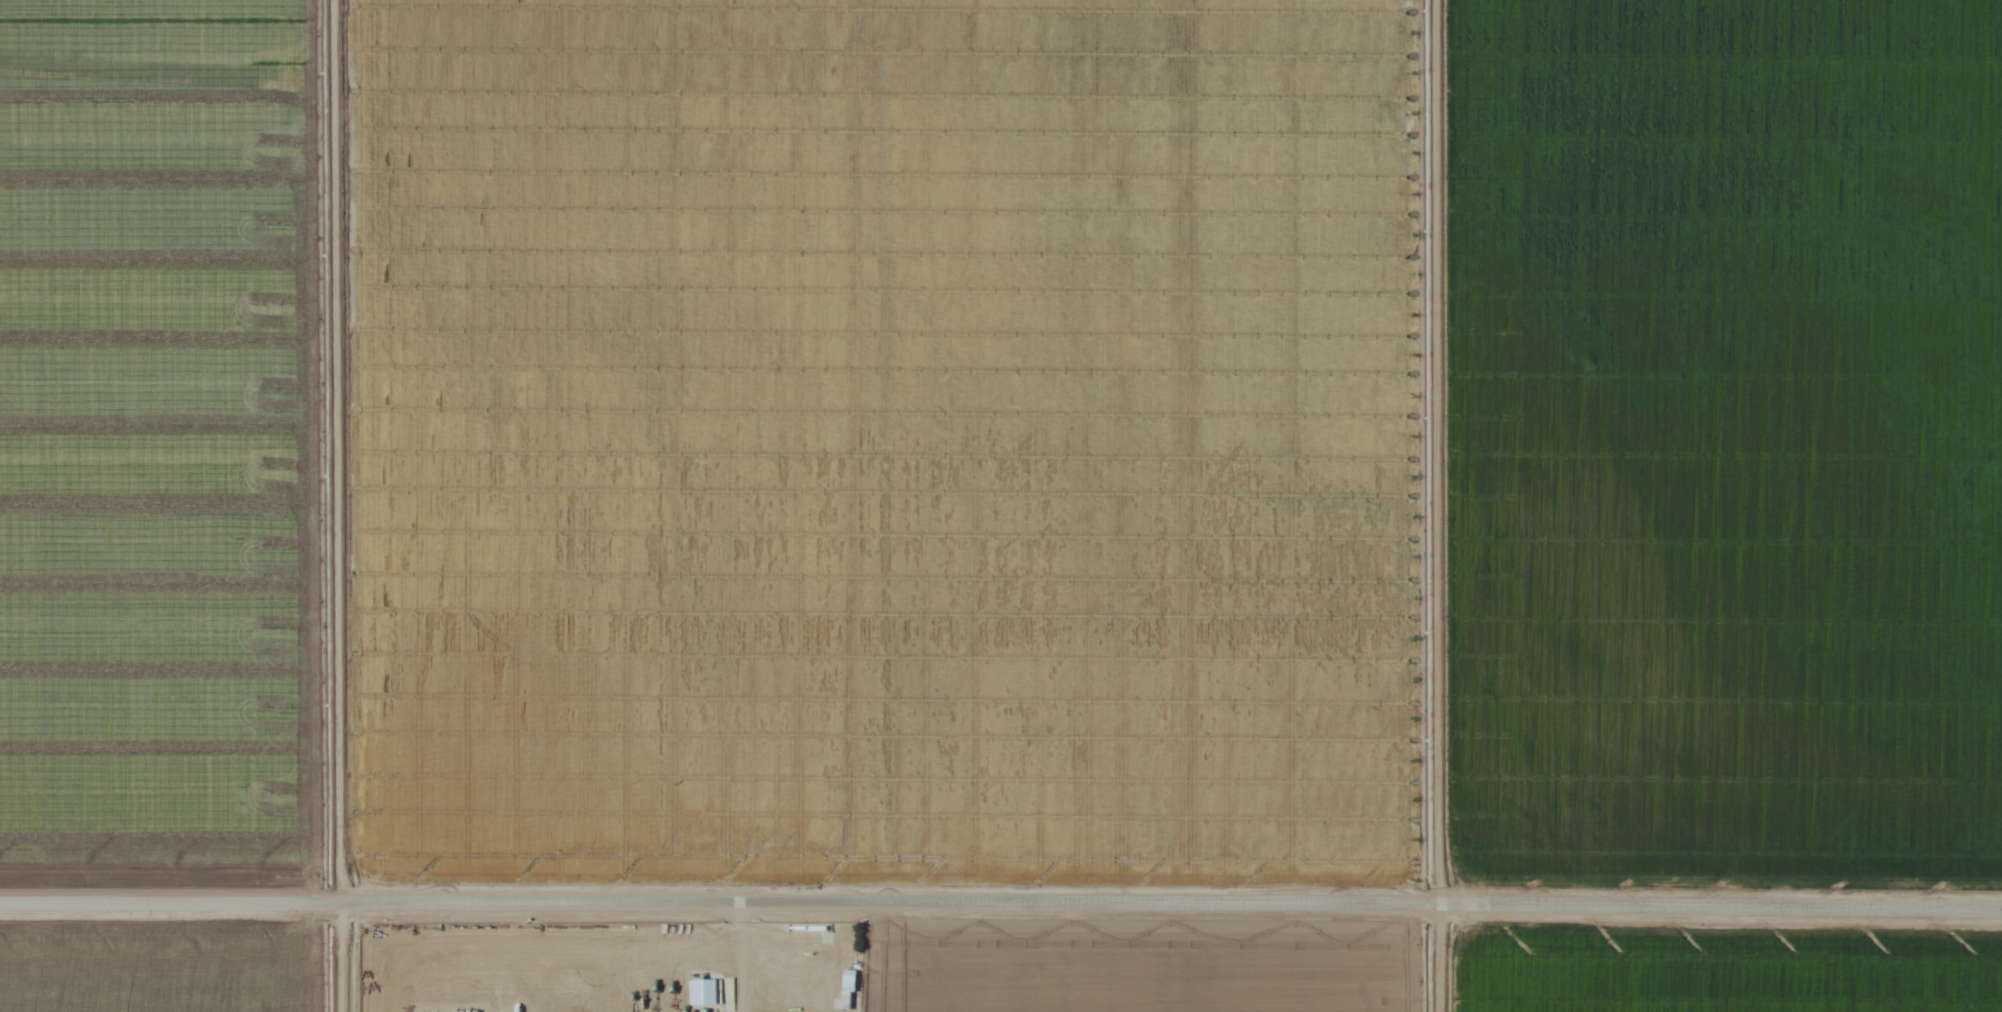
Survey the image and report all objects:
road: (1000, 889)

